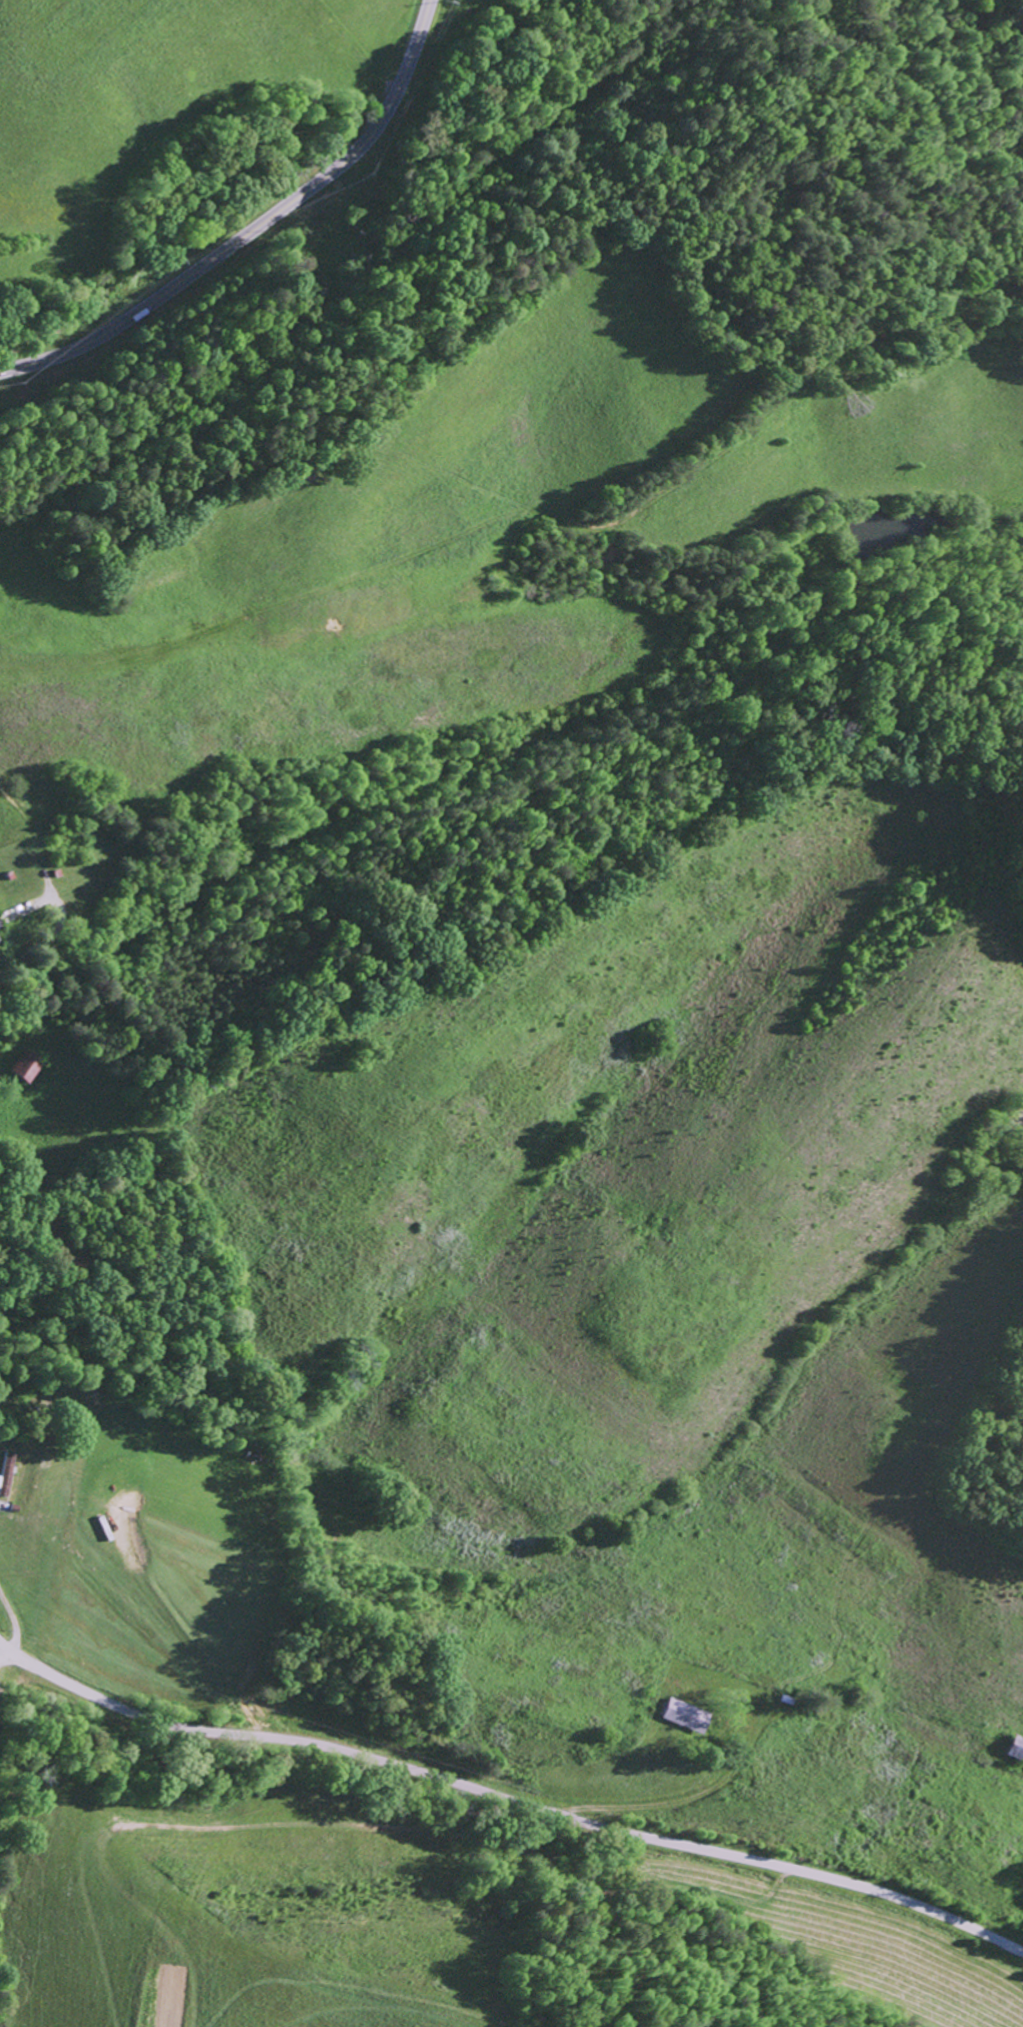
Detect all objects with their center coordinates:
road: (257, 228)
building: (0, 940)
building: (6, 1473)
building: (685, 1714)
building: (1015, 1748)
road: (510, 1795)

